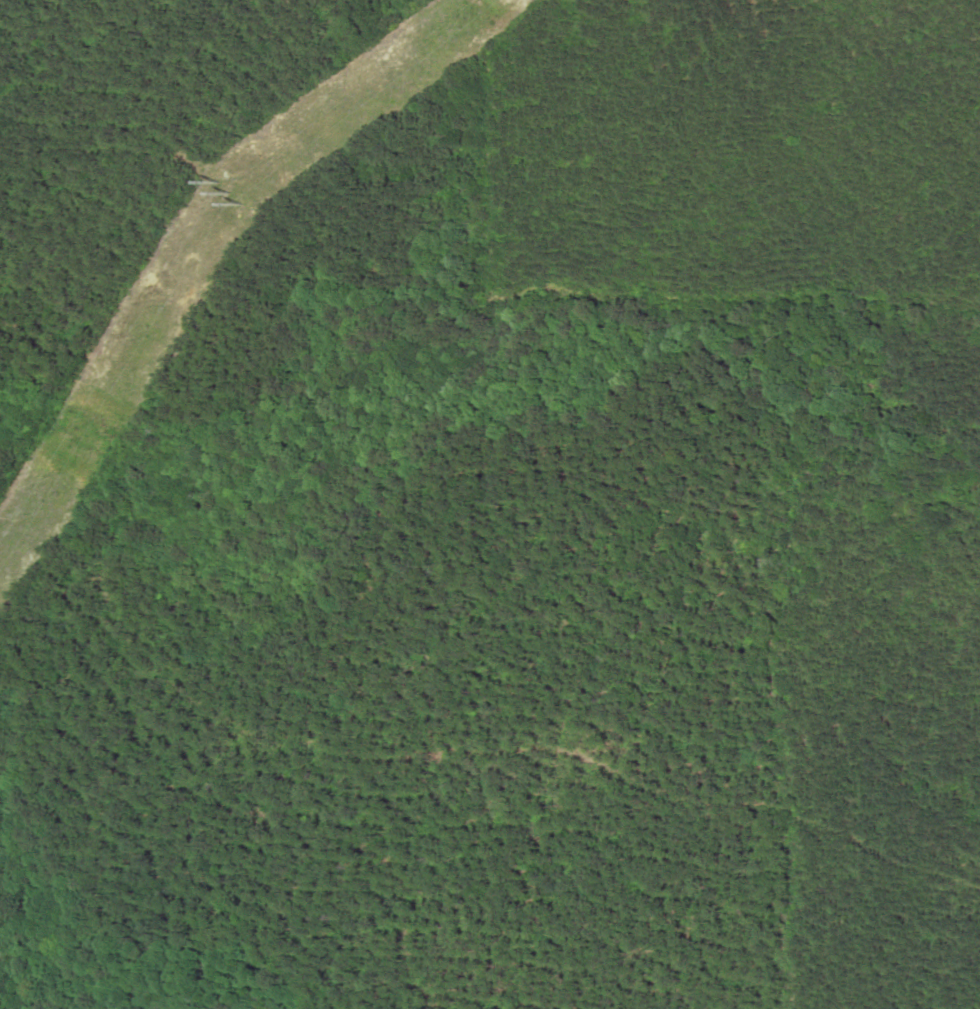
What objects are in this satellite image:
power tower: (232, 196)

